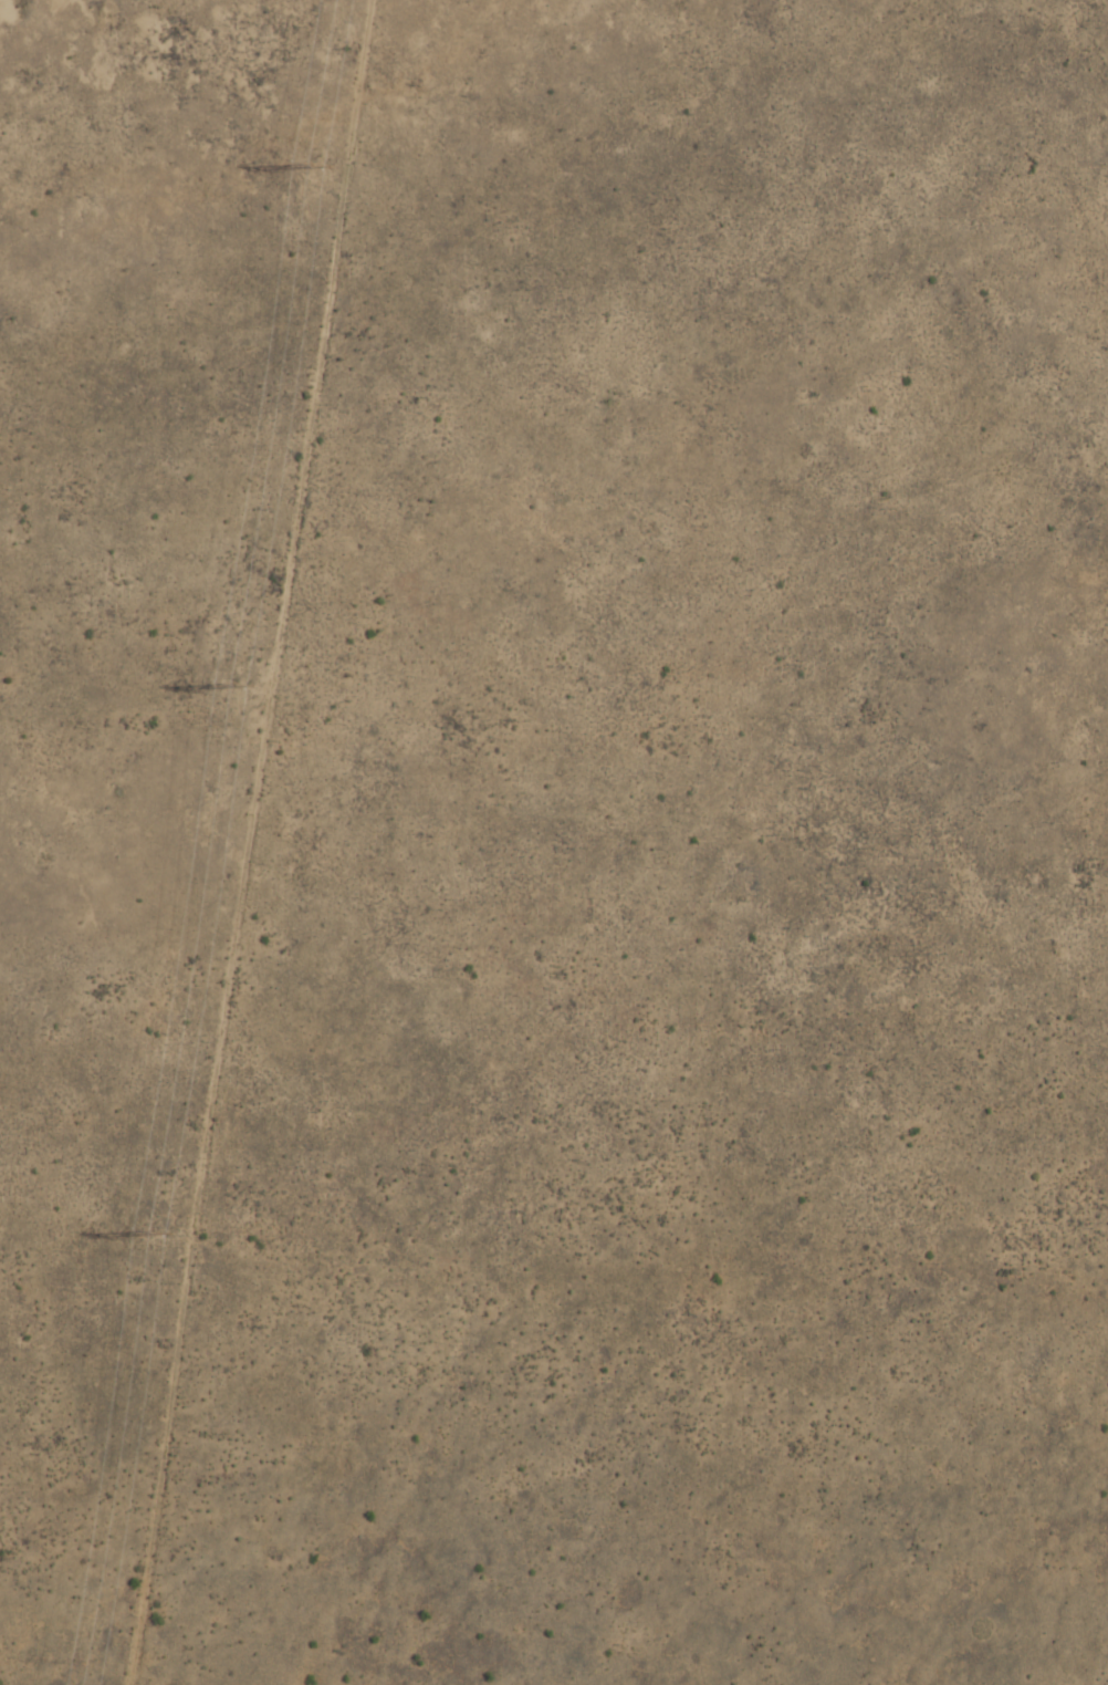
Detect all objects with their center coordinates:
power tower: (322, 166)
power tower: (245, 686)
power tower: (166, 1232)

